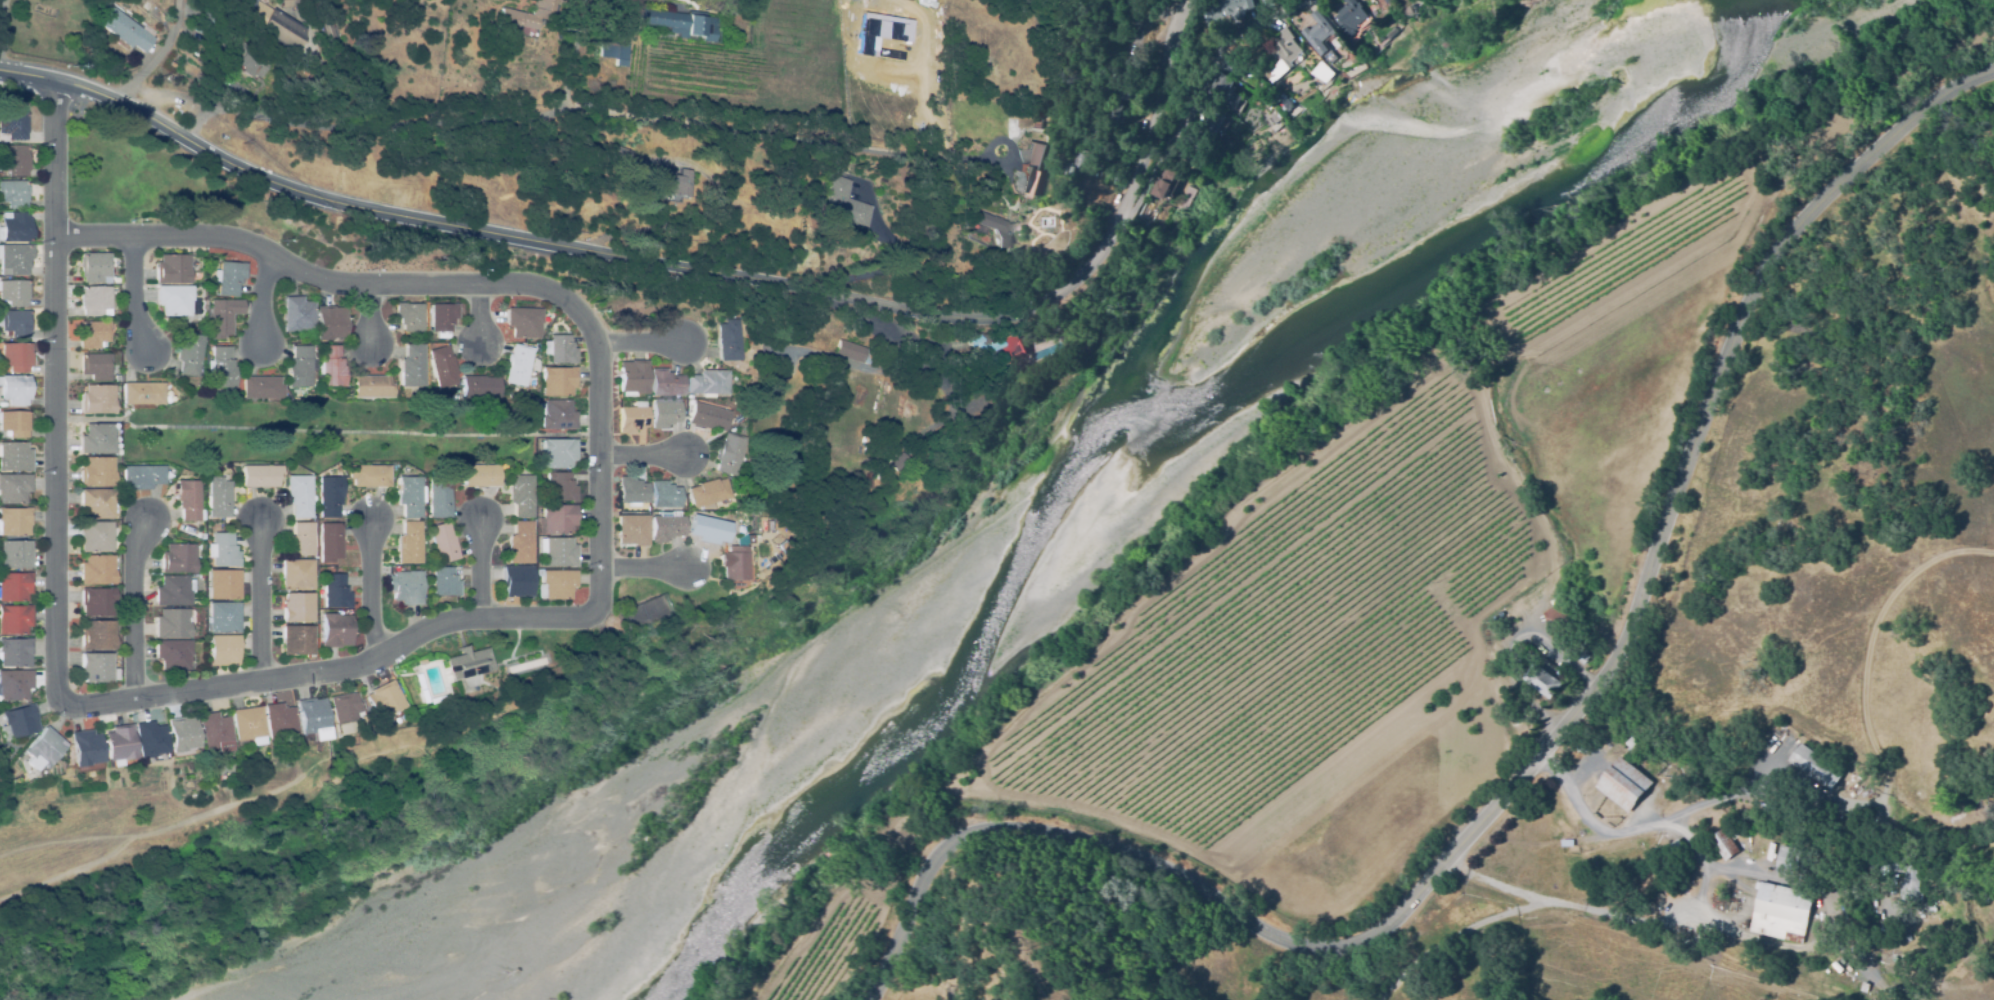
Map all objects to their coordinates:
building: (1267, 2)
building: (246, 3)
building: (289, 3)
building: (147, 5)
building: (1234, 7)
building: (526, 15)
building: (1351, 15)
building: (680, 23)
building: (274, 26)
building: (128, 30)
building: (328, 32)
building: (1318, 33)
building: (234, 46)
building: (619, 51)
road: (577, 52)
building: (1284, 54)
road: (160, 56)
building: (620, 63)
building: (250, 64)
building: (1322, 72)
road: (1207, 82)
building: (1120, 88)
building: (1223, 93)
building: (246, 100)
building: (1112, 112)
building: (1043, 122)
building: (1210, 124)
building: (12, 126)
road: (340, 126)
road: (774, 133)
building: (1183, 144)
building: (622, 153)
building: (14, 160)
building: (1032, 170)
building: (670, 180)
building: (1164, 181)
building: (14, 193)
building: (651, 196)
building: (843, 203)
building: (15, 227)
building: (989, 230)
building: (15, 259)
building: (94, 267)
building: (172, 269)
road: (682, 269)
road: (312, 276)
building: (228, 277)
building: (115, 280)
building: (14, 292)
road: (135, 297)
building: (174, 299)
road: (263, 299)
building: (95, 301)
building: (297, 314)
road: (477, 315)
road: (368, 316)
building: (409, 316)
building: (221, 317)
building: (441, 319)
building: (523, 322)
building: (15, 323)
building: (330, 323)
building: (93, 334)
building: (729, 340)
road: (642, 344)
building: (429, 345)
building: (559, 349)
building: (993, 350)
building: (854, 351)
building: (189, 353)
building: (16, 357)
building: (517, 365)
building: (95, 366)
building: (300, 366)
building: (330, 366)
building: (412, 366)
building: (441, 366)
building: (220, 367)
building: (3, 372)
building: (633, 377)
building: (117, 378)
building: (558, 380)
building: (665, 383)
building: (708, 383)
building: (261, 387)
building: (371, 387)
building: (479, 387)
building: (15, 389)
road: (54, 391)
building: (142, 394)
building: (454, 397)
building: (98, 399)
building: (3, 404)
building: (555, 414)
building: (665, 414)
building: (632, 417)
building: (708, 417)
building: (14, 423)
river: (1142, 436)
building: (97, 439)
building: (558, 453)
building: (729, 453)
building: (15, 456)
road: (643, 456)
road: (600, 457)
building: (899, 463)
building: (97, 471)
building: (261, 475)
building: (369, 475)
building: (477, 475)
building: (142, 477)
building: (868, 480)
building: (560, 486)
building: (14, 488)
building: (632, 490)
building: (707, 494)
building: (299, 495)
building: (411, 495)
building: (520, 495)
building: (665, 495)
building: (329, 496)
building: (218, 497)
building: (439, 498)
building: (189, 500)
building: (98, 503)
building: (314, 516)
building: (556, 519)
building: (15, 521)
building: (738, 525)
building: (747, 526)
building: (666, 528)
building: (708, 528)
building: (183, 529)
building: (632, 530)
building: (96, 537)
building: (301, 539)
building: (329, 541)
building: (443, 542)
building: (747, 542)
building: (409, 543)
building: (520, 543)
building: (223, 551)
building: (559, 553)
building: (15, 554)
building: (178, 558)
building: (733, 563)
road: (480, 567)
road: (642, 569)
building: (97, 570)
building: (297, 575)
building: (201, 576)
building: (517, 580)
building: (443, 582)
building: (555, 583)
building: (223, 584)
building: (14, 586)
building: (406, 587)
road: (372, 588)
building: (174, 590)
building: (333, 592)
building: (97, 601)
road: (260, 602)
building: (297, 607)
road: (134, 610)
building: (223, 618)
building: (15, 619)
building: (1558, 620)
building: (174, 623)
building: (336, 630)
building: (98, 635)
building: (297, 640)
building: (223, 649)
building: (15, 652)
building: (173, 654)
building: (1580, 655)
building: (420, 661)
building: (466, 663)
building: (96, 667)
road: (333, 670)
building: (1541, 680)
building: (15, 684)
building: (419, 688)
building: (384, 698)
building: (435, 699)
building: (343, 708)
building: (313, 719)
building: (19, 720)
building: (279, 722)
building: (248, 725)
building: (215, 732)
building: (182, 736)
building: (150, 740)
building: (118, 744)
building: (1792, 745)
building: (42, 749)
building: (85, 749)
building: (66, 759)
road: (1530, 764)
building: (1815, 766)
building: (0, 779)
building: (1624, 784)
road: (1646, 828)
building: (1725, 845)
building: (1673, 848)
building: (1791, 858)
building: (1907, 877)
road: (1585, 902)
building: (1781, 912)
building: (1865, 987)

